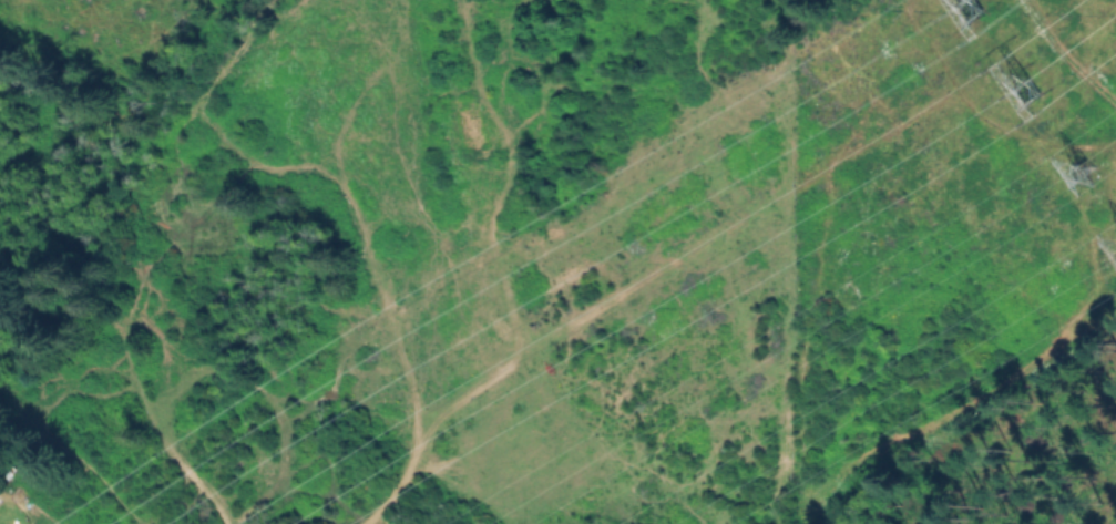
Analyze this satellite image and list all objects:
power tower: (979, 17)
power tower: (1031, 93)
power tower: (1086, 182)

